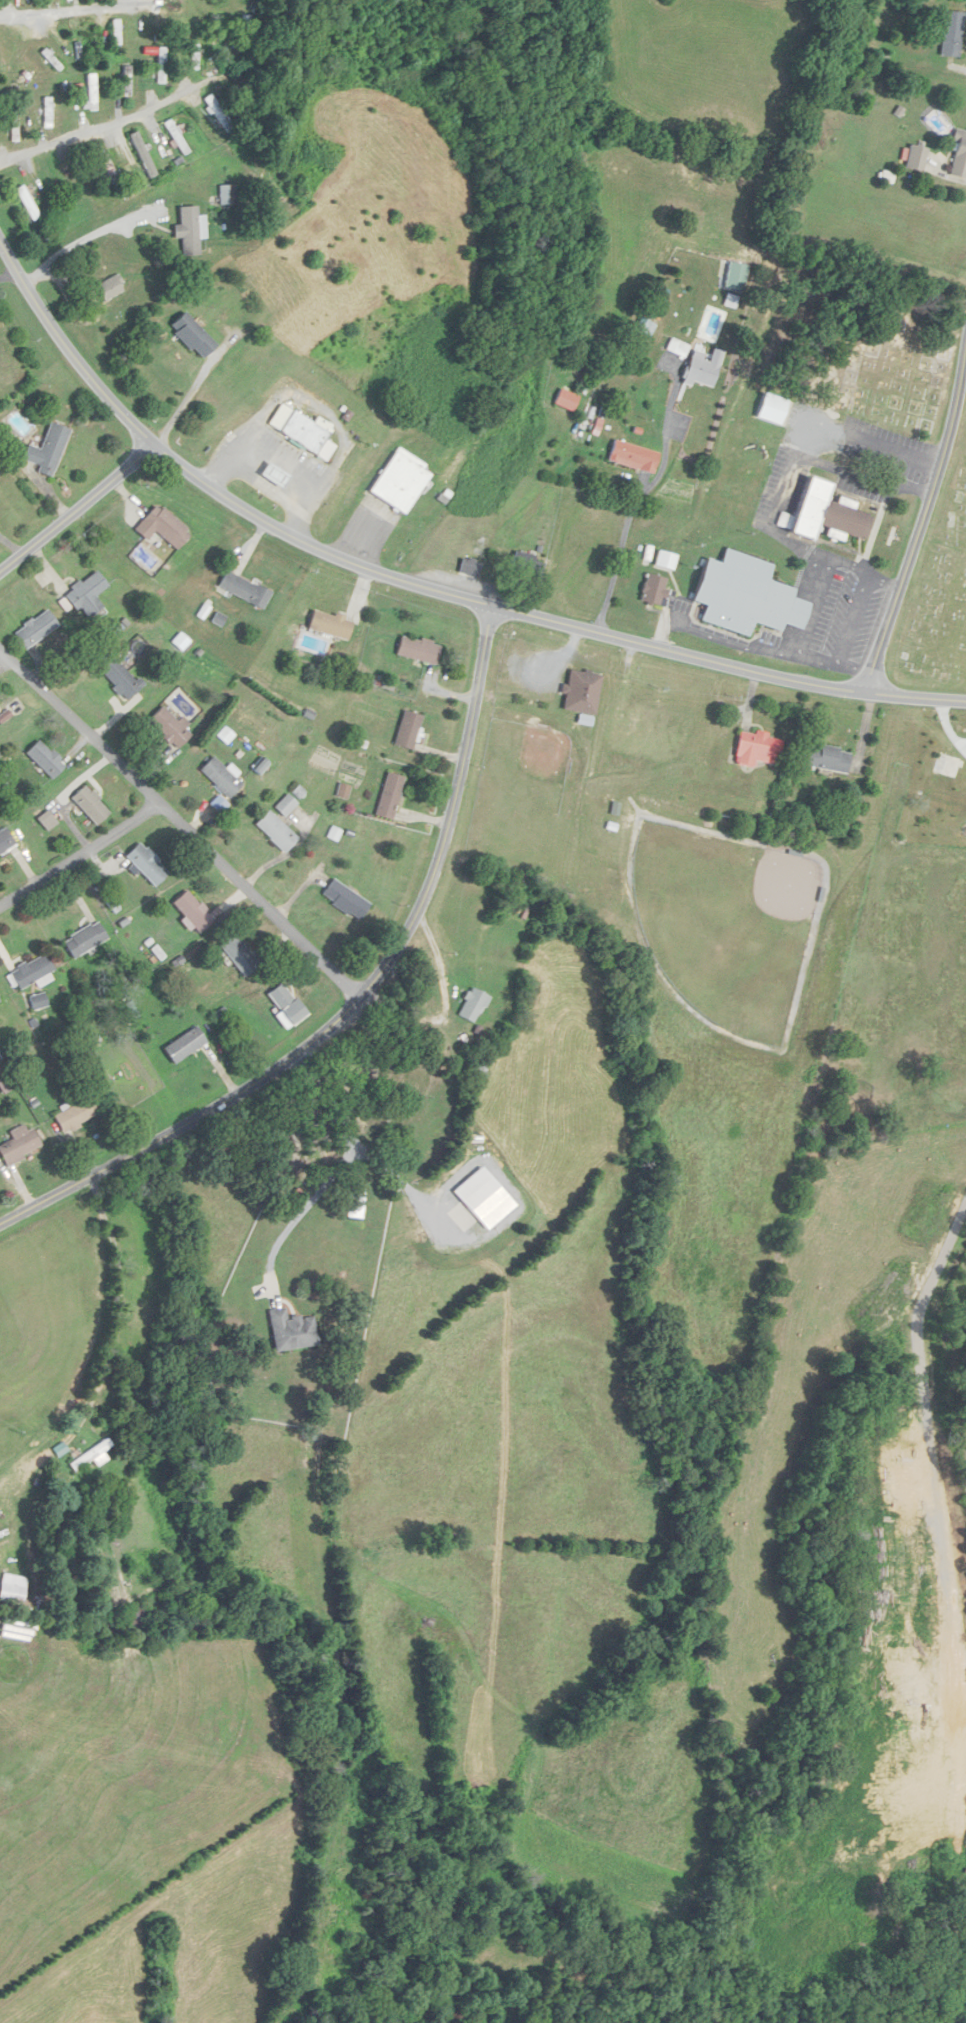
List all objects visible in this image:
road: (70, 11)
building: (117, 32)
building: (952, 34)
building: (233, 35)
building: (90, 43)
building: (162, 65)
road: (961, 67)
building: (127, 81)
building: (93, 92)
building: (48, 112)
building: (220, 113)
building: (15, 128)
road: (98, 129)
building: (177, 137)
building: (142, 154)
building: (959, 155)
building: (916, 158)
building: (108, 166)
building: (28, 202)
building: (190, 230)
road: (84, 241)
road: (8, 276)
building: (736, 276)
building: (109, 288)
building: (611, 318)
park: (866, 338)
building: (176, 343)
building: (703, 370)
building: (566, 400)
building: (301, 432)
building: (47, 450)
building: (634, 457)
road: (863, 476)
road: (789, 478)
building: (400, 482)
road: (77, 508)
building: (825, 514)
road: (633, 520)
road: (921, 522)
building: (163, 527)
building: (666, 561)
building: (527, 566)
road: (422, 585)
building: (244, 590)
building: (655, 592)
building: (88, 595)
building: (746, 596)
park: (940, 597)
road: (854, 618)
building: (329, 625)
building: (35, 629)
road: (664, 631)
building: (418, 649)
road: (769, 650)
building: (120, 679)
building: (581, 693)
building: (169, 727)
building: (407, 731)
building: (757, 749)
building: (44, 759)
building: (828, 759)
building: (220, 777)
building: (389, 796)
building: (90, 805)
building: (285, 806)
building: (47, 821)
road: (179, 825)
building: (276, 832)
building: (5, 841)
road: (81, 859)
building: (146, 864)
building: (344, 900)
building: (192, 912)
park: (727, 923)
building: (84, 940)
building: (239, 956)
building: (32, 974)
road: (358, 1000)
building: (37, 1002)
building: (285, 1006)
building: (472, 1006)
building: (185, 1046)
building: (75, 1116)
building: (18, 1146)
road: (337, 1168)
road: (396, 1173)
building: (354, 1203)
road: (120, 1306)
building: (291, 1330)
road: (919, 1357)
building: (12, 1588)
building: (134, 1618)

